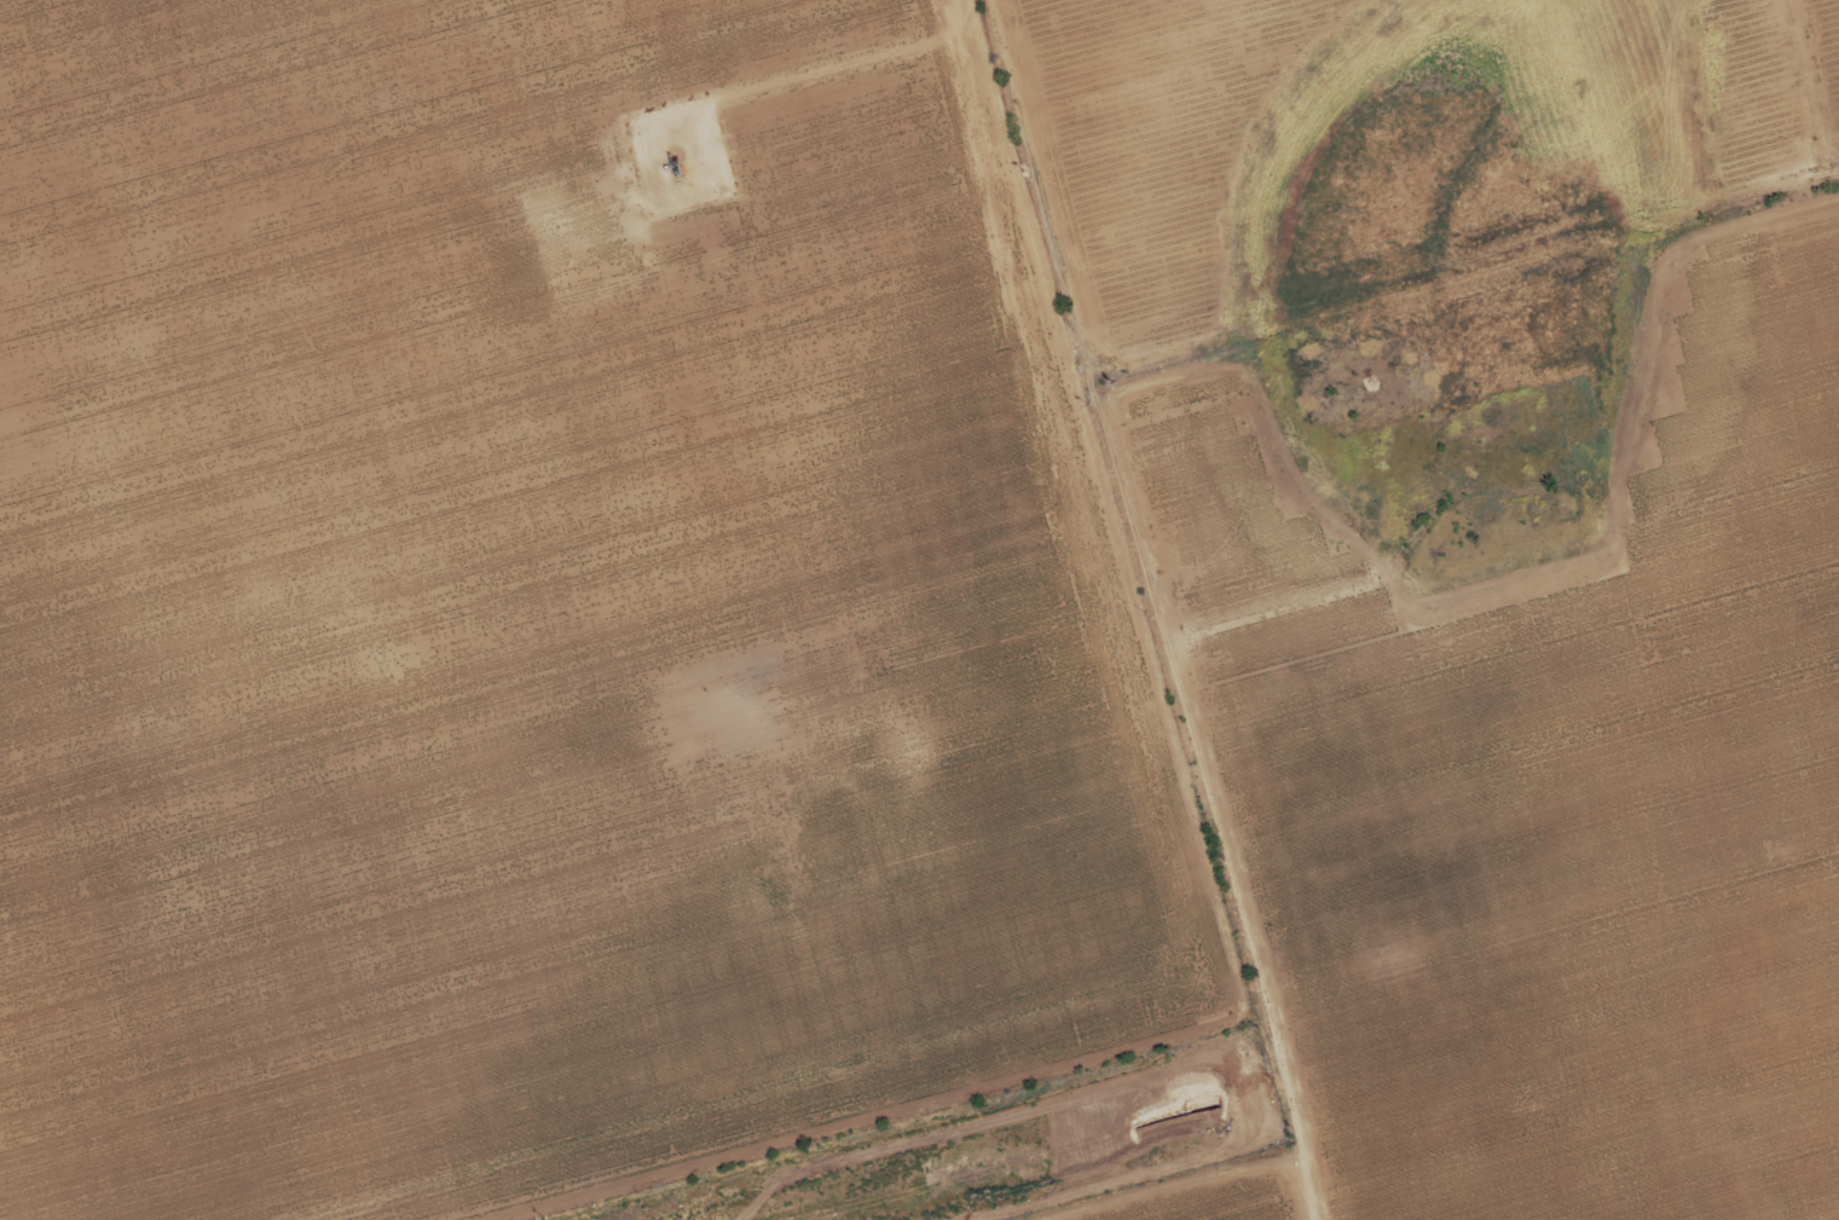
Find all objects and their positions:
building: (1132, 1077)

